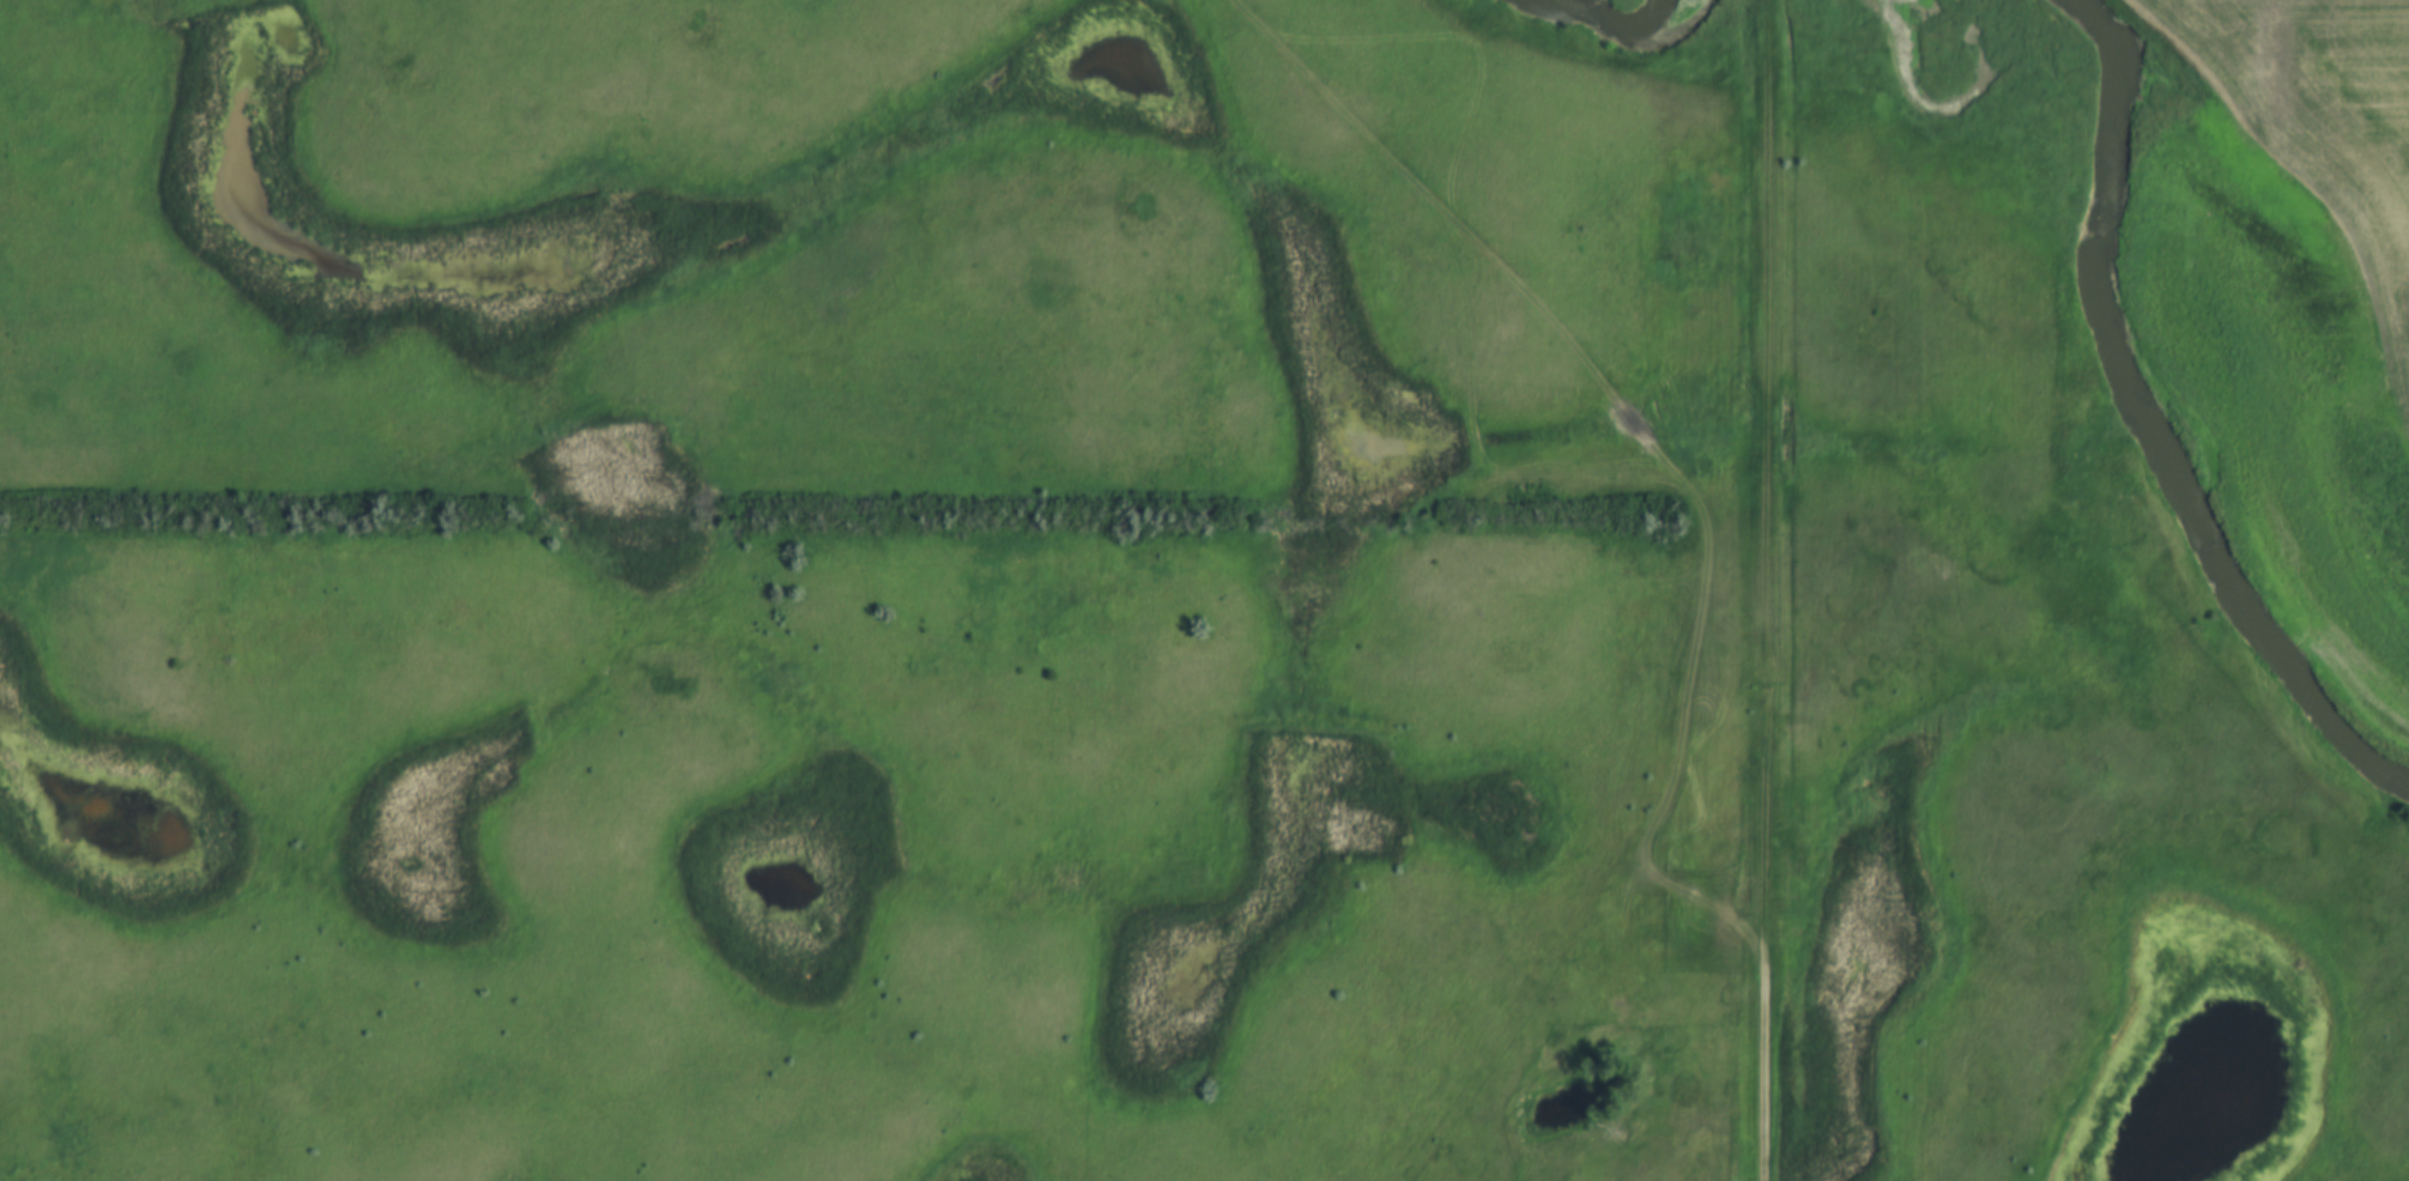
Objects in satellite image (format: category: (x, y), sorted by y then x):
river: (1641, 32)
river: (2137, 435)
road: (1771, 589)

